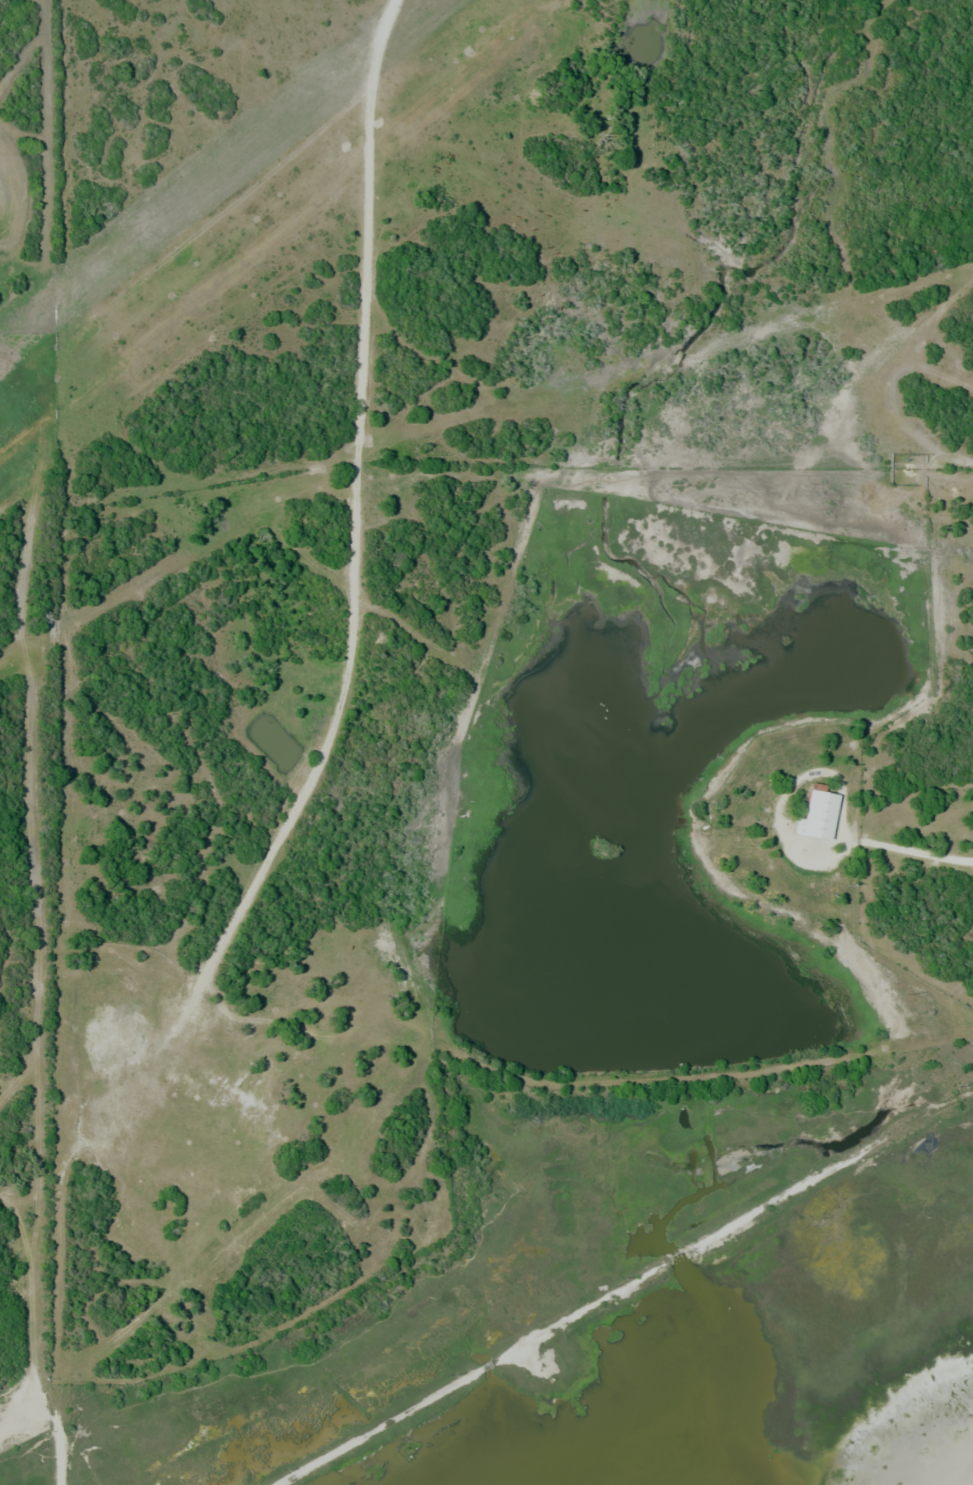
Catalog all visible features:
road: (360, 524)
road: (784, 798)
building: (819, 818)
road: (912, 853)
road: (33, 1291)

